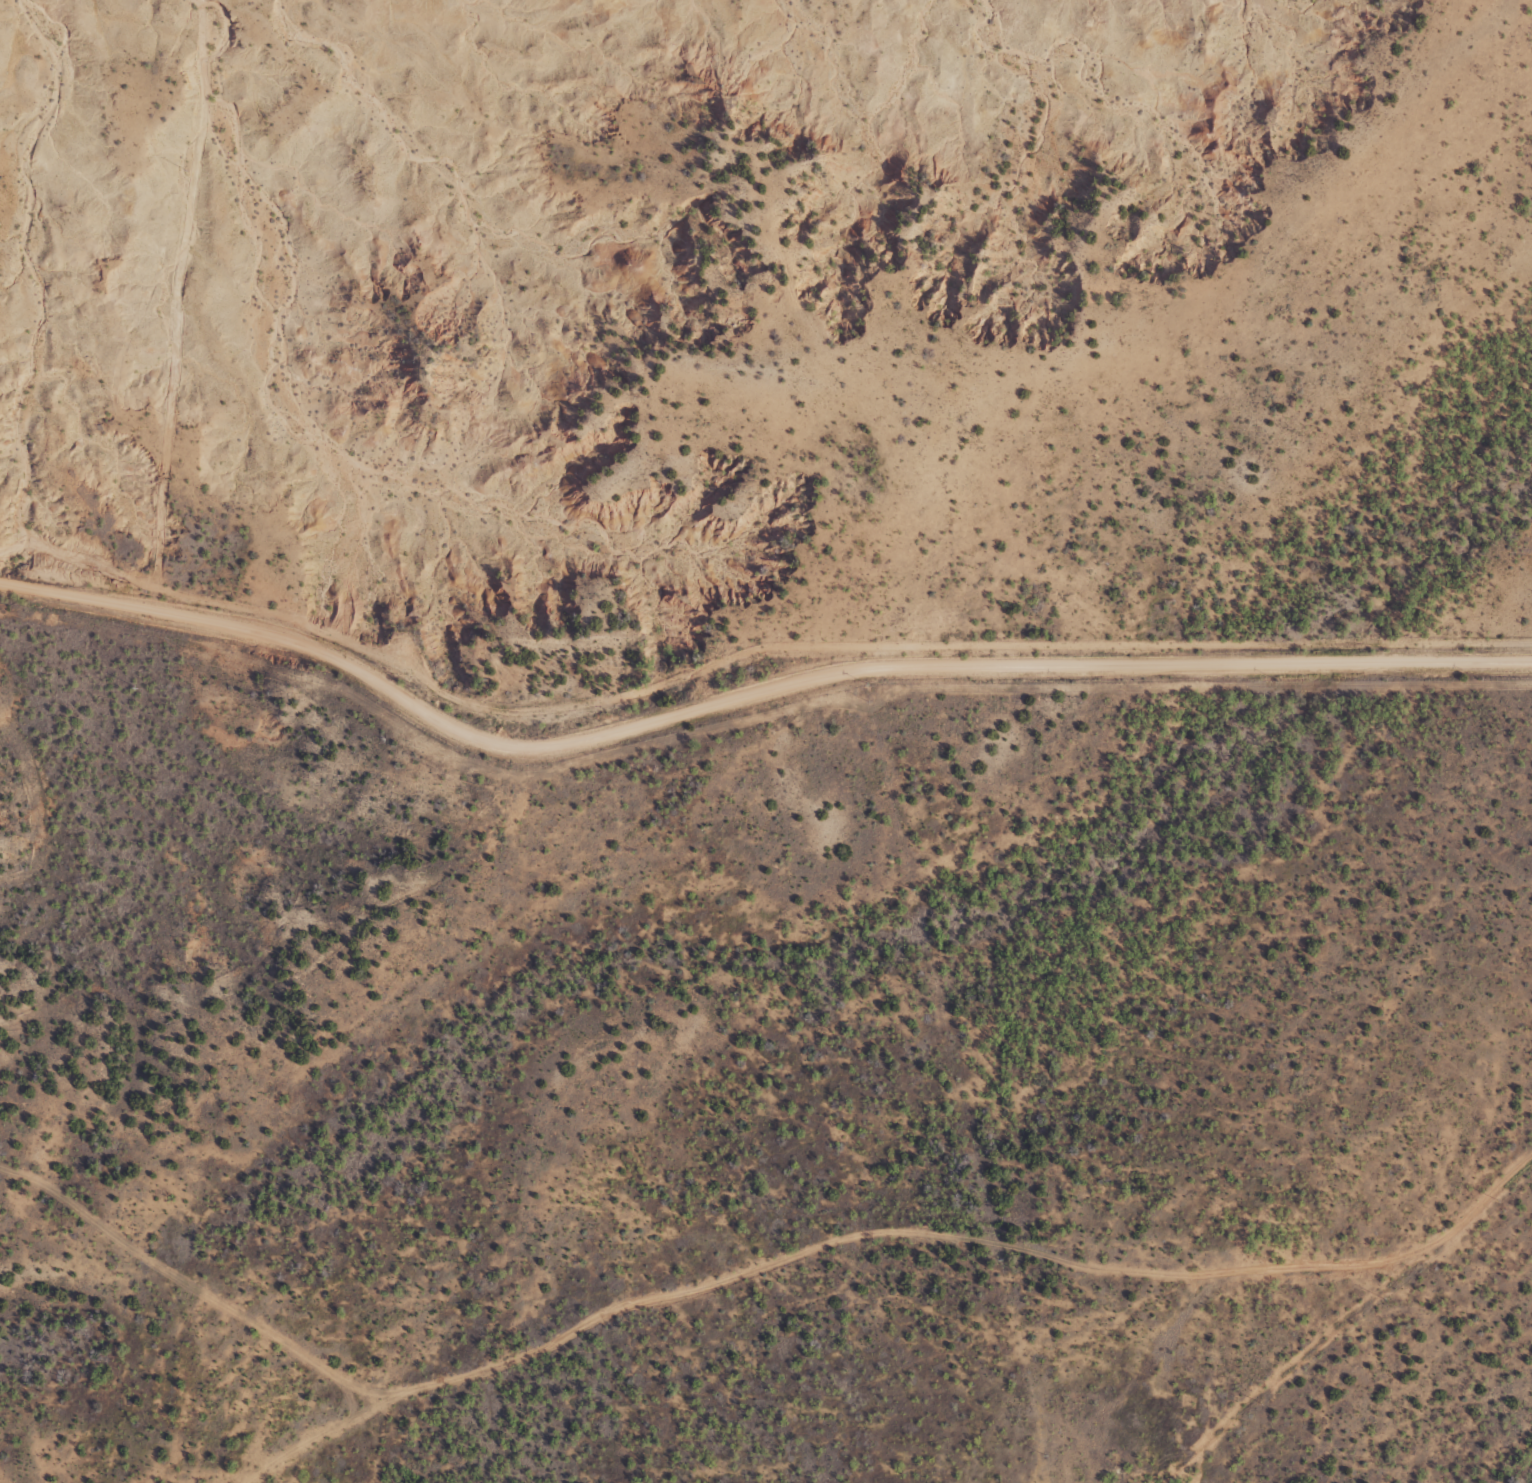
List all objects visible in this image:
road: (750, 698)
road: (896, 1233)

